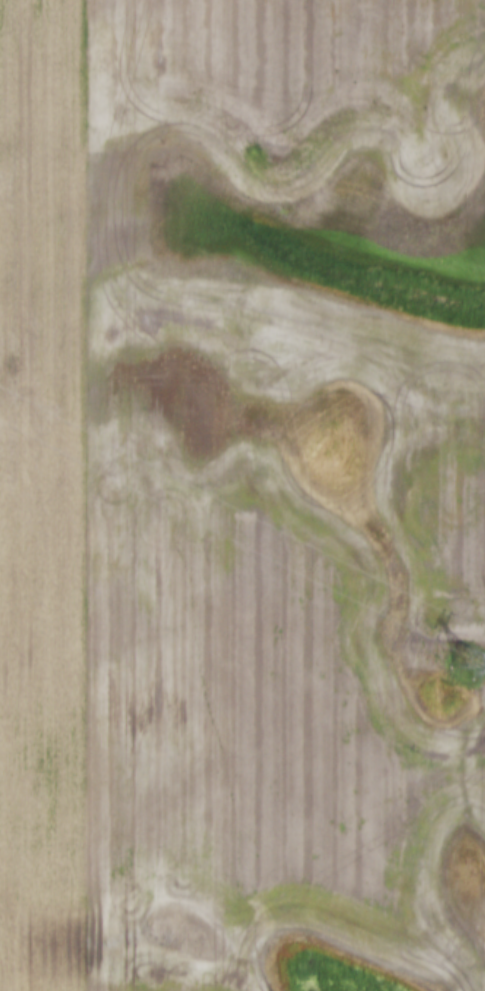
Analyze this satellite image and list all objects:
power tower: (470, 654)

